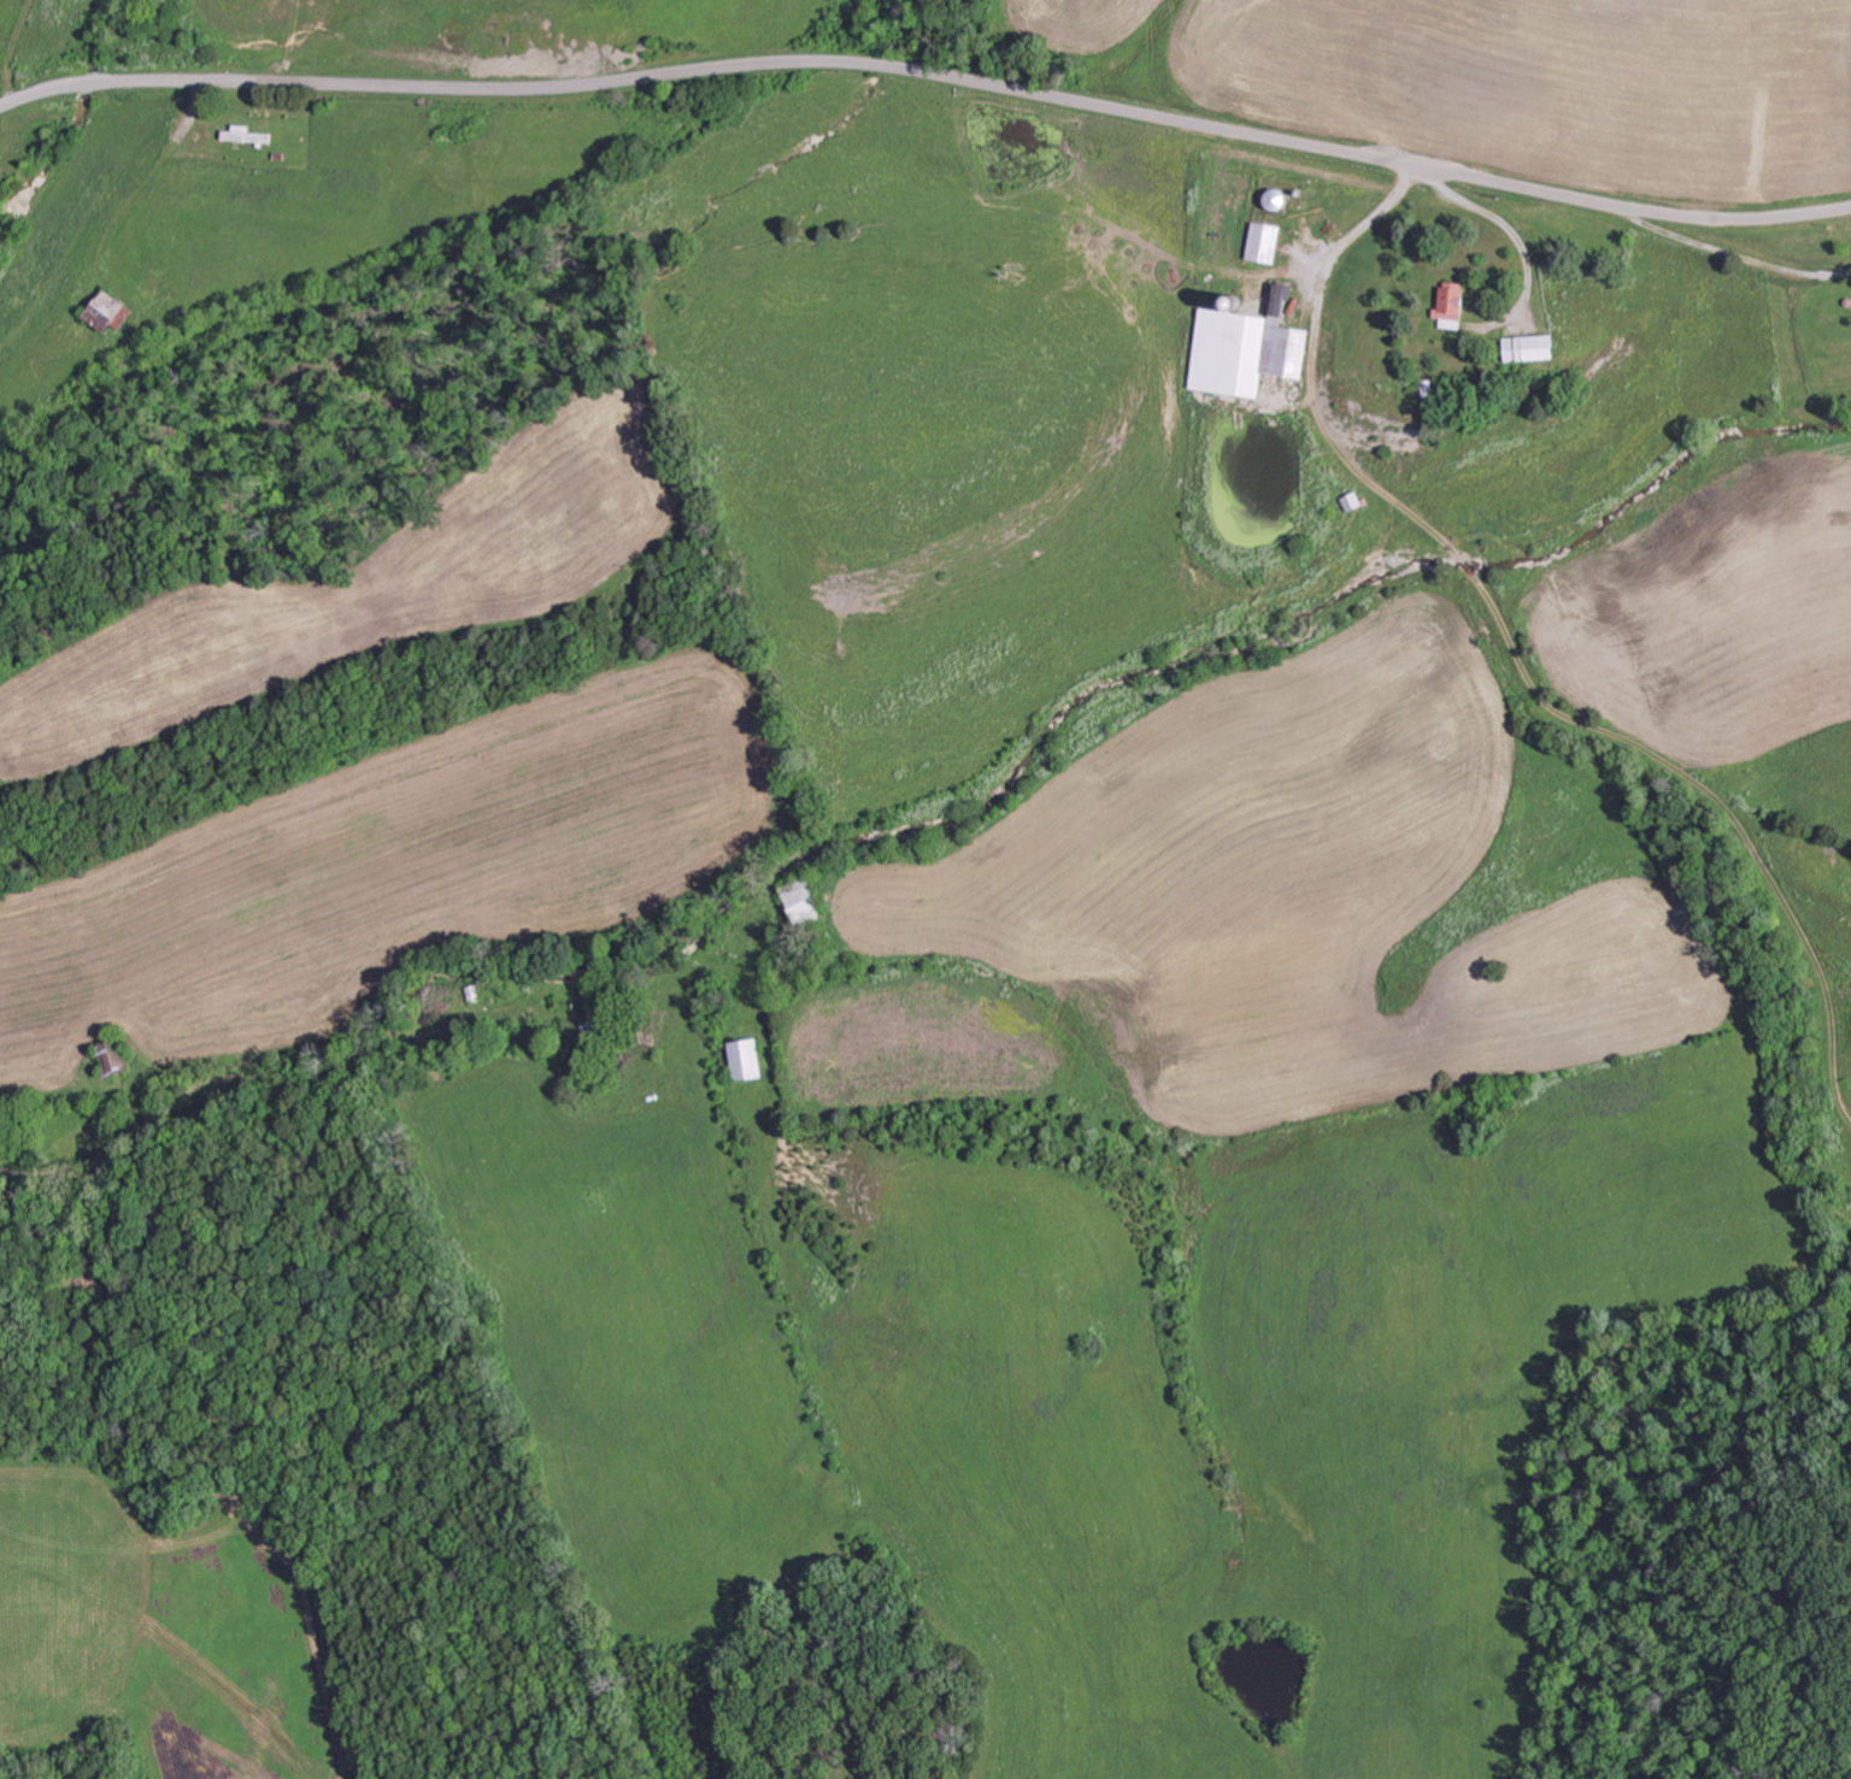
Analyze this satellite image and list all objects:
road: (929, 73)
building: (239, 134)
building: (1259, 242)
building: (1441, 307)
building: (104, 310)
building: (1520, 347)
building: (1241, 348)
building: (739, 1056)
road: (236, 1077)

